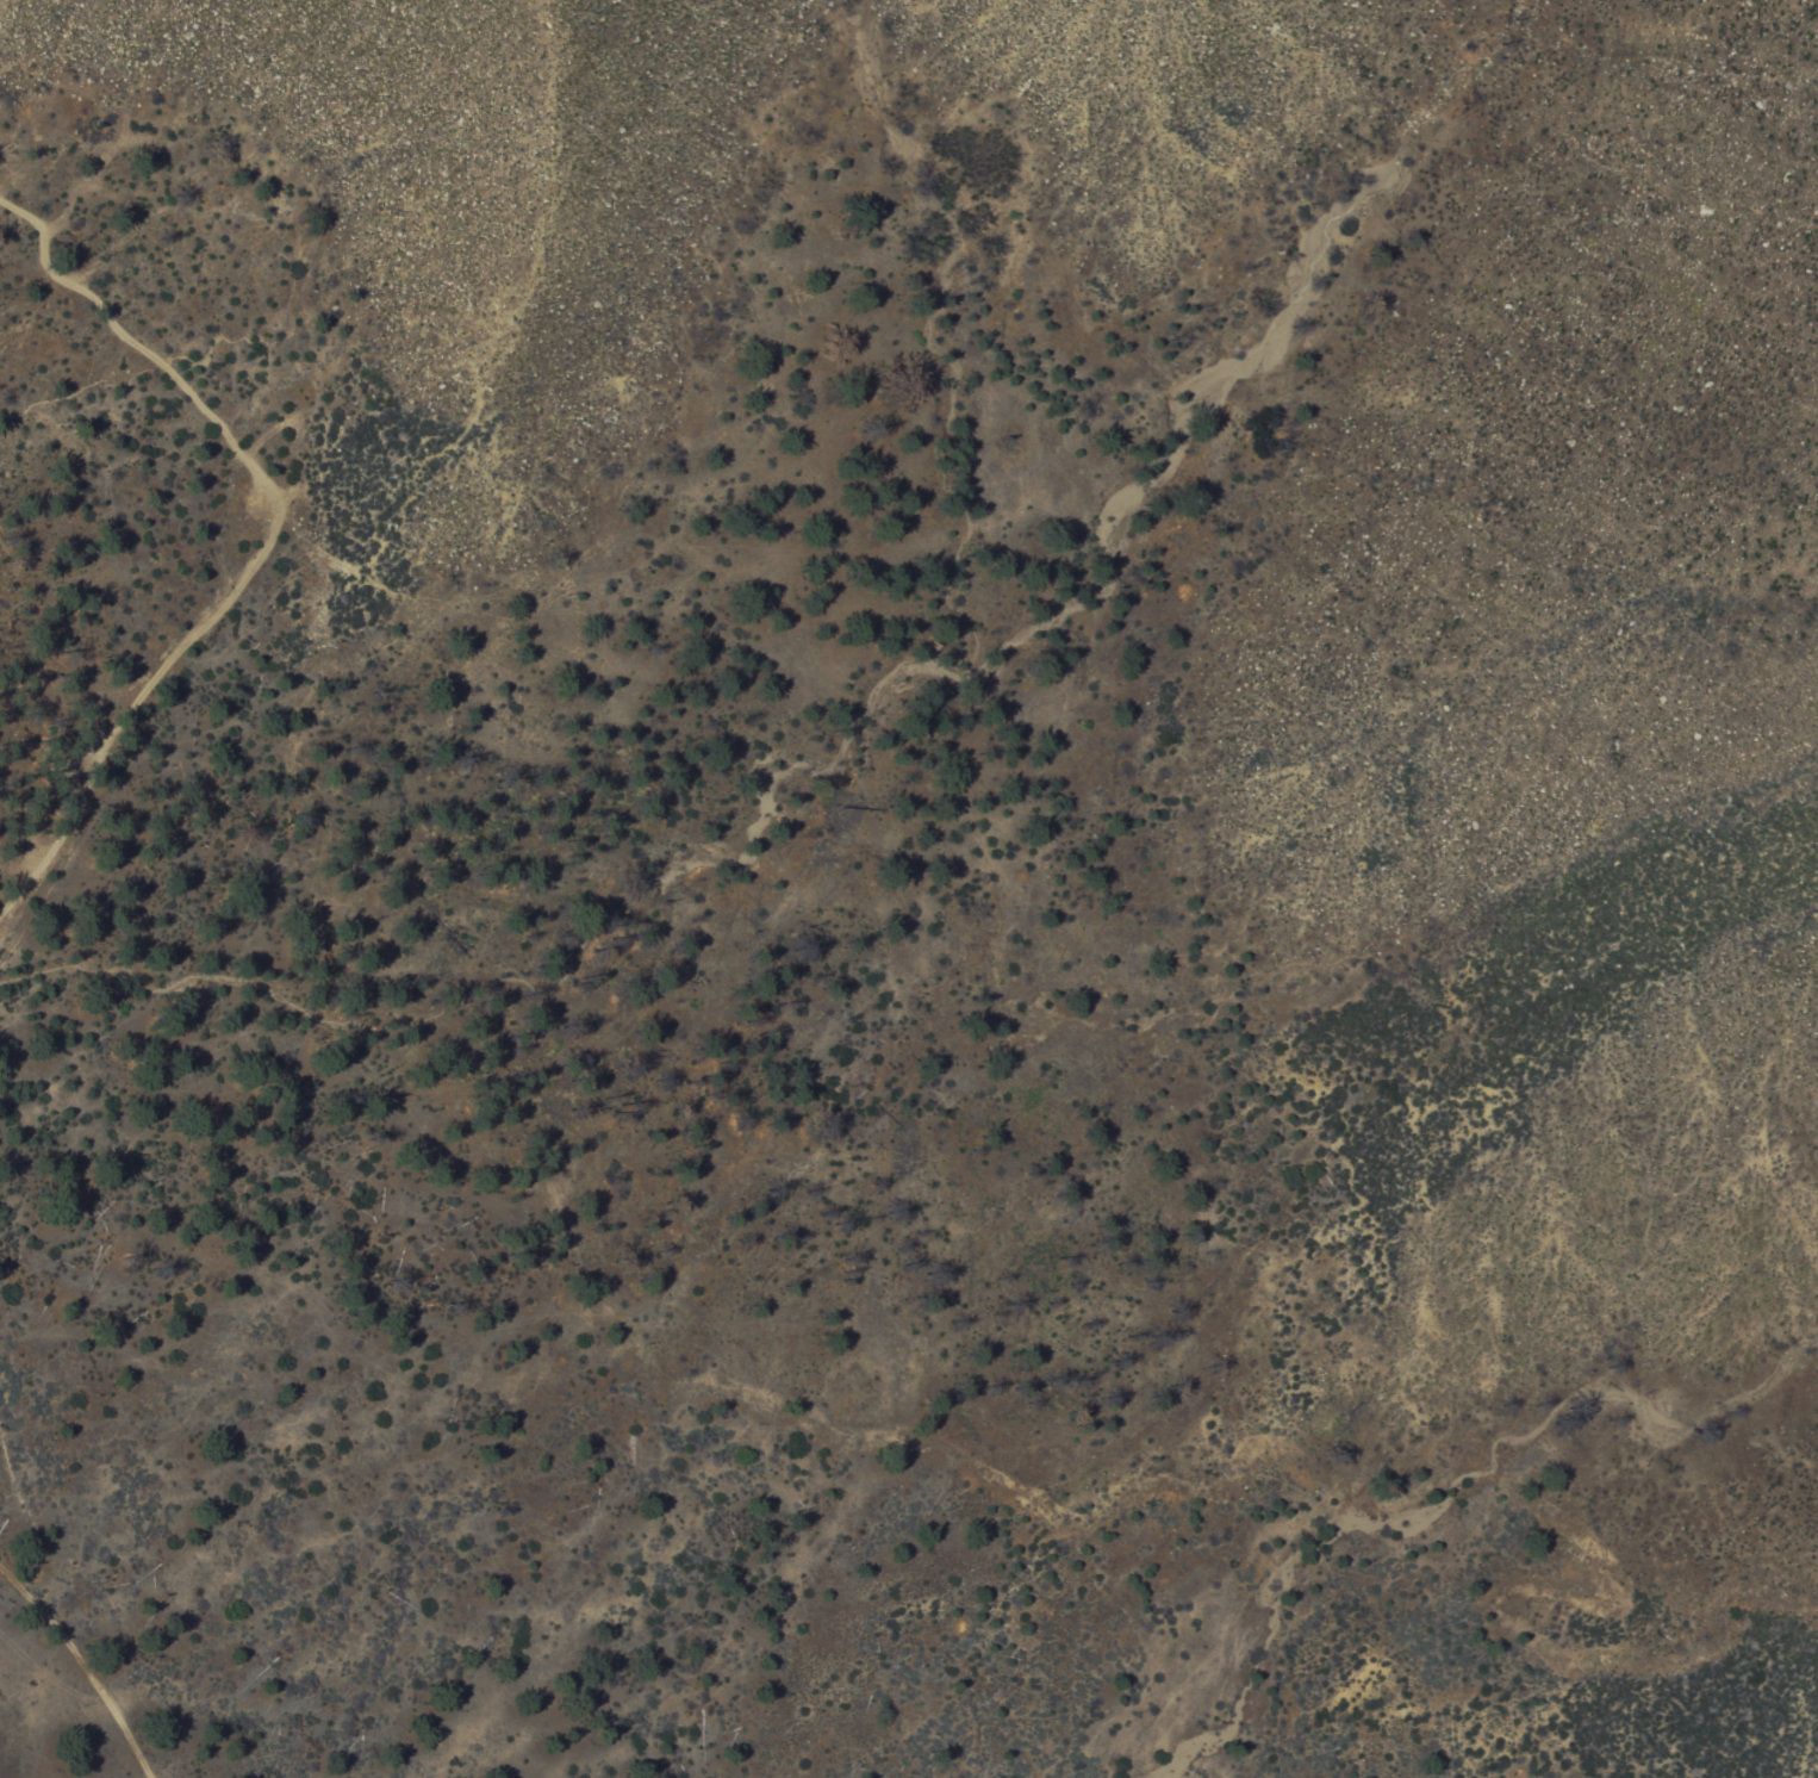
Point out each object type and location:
road: (139, 348)
road: (80, 1667)

